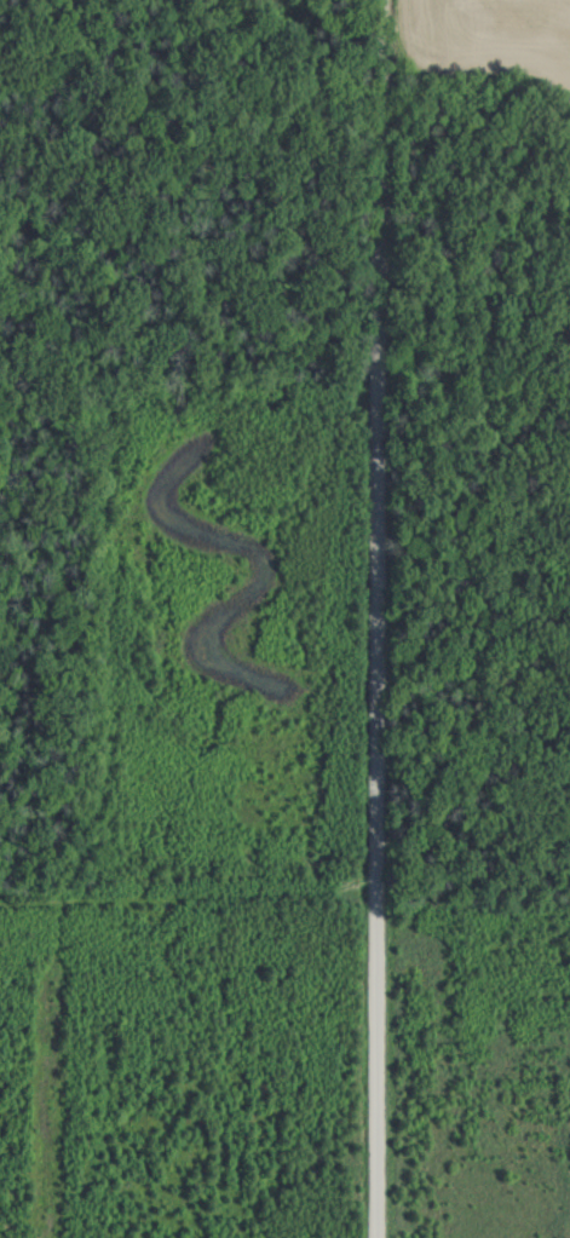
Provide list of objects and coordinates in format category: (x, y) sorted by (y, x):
road: (376, 618)

